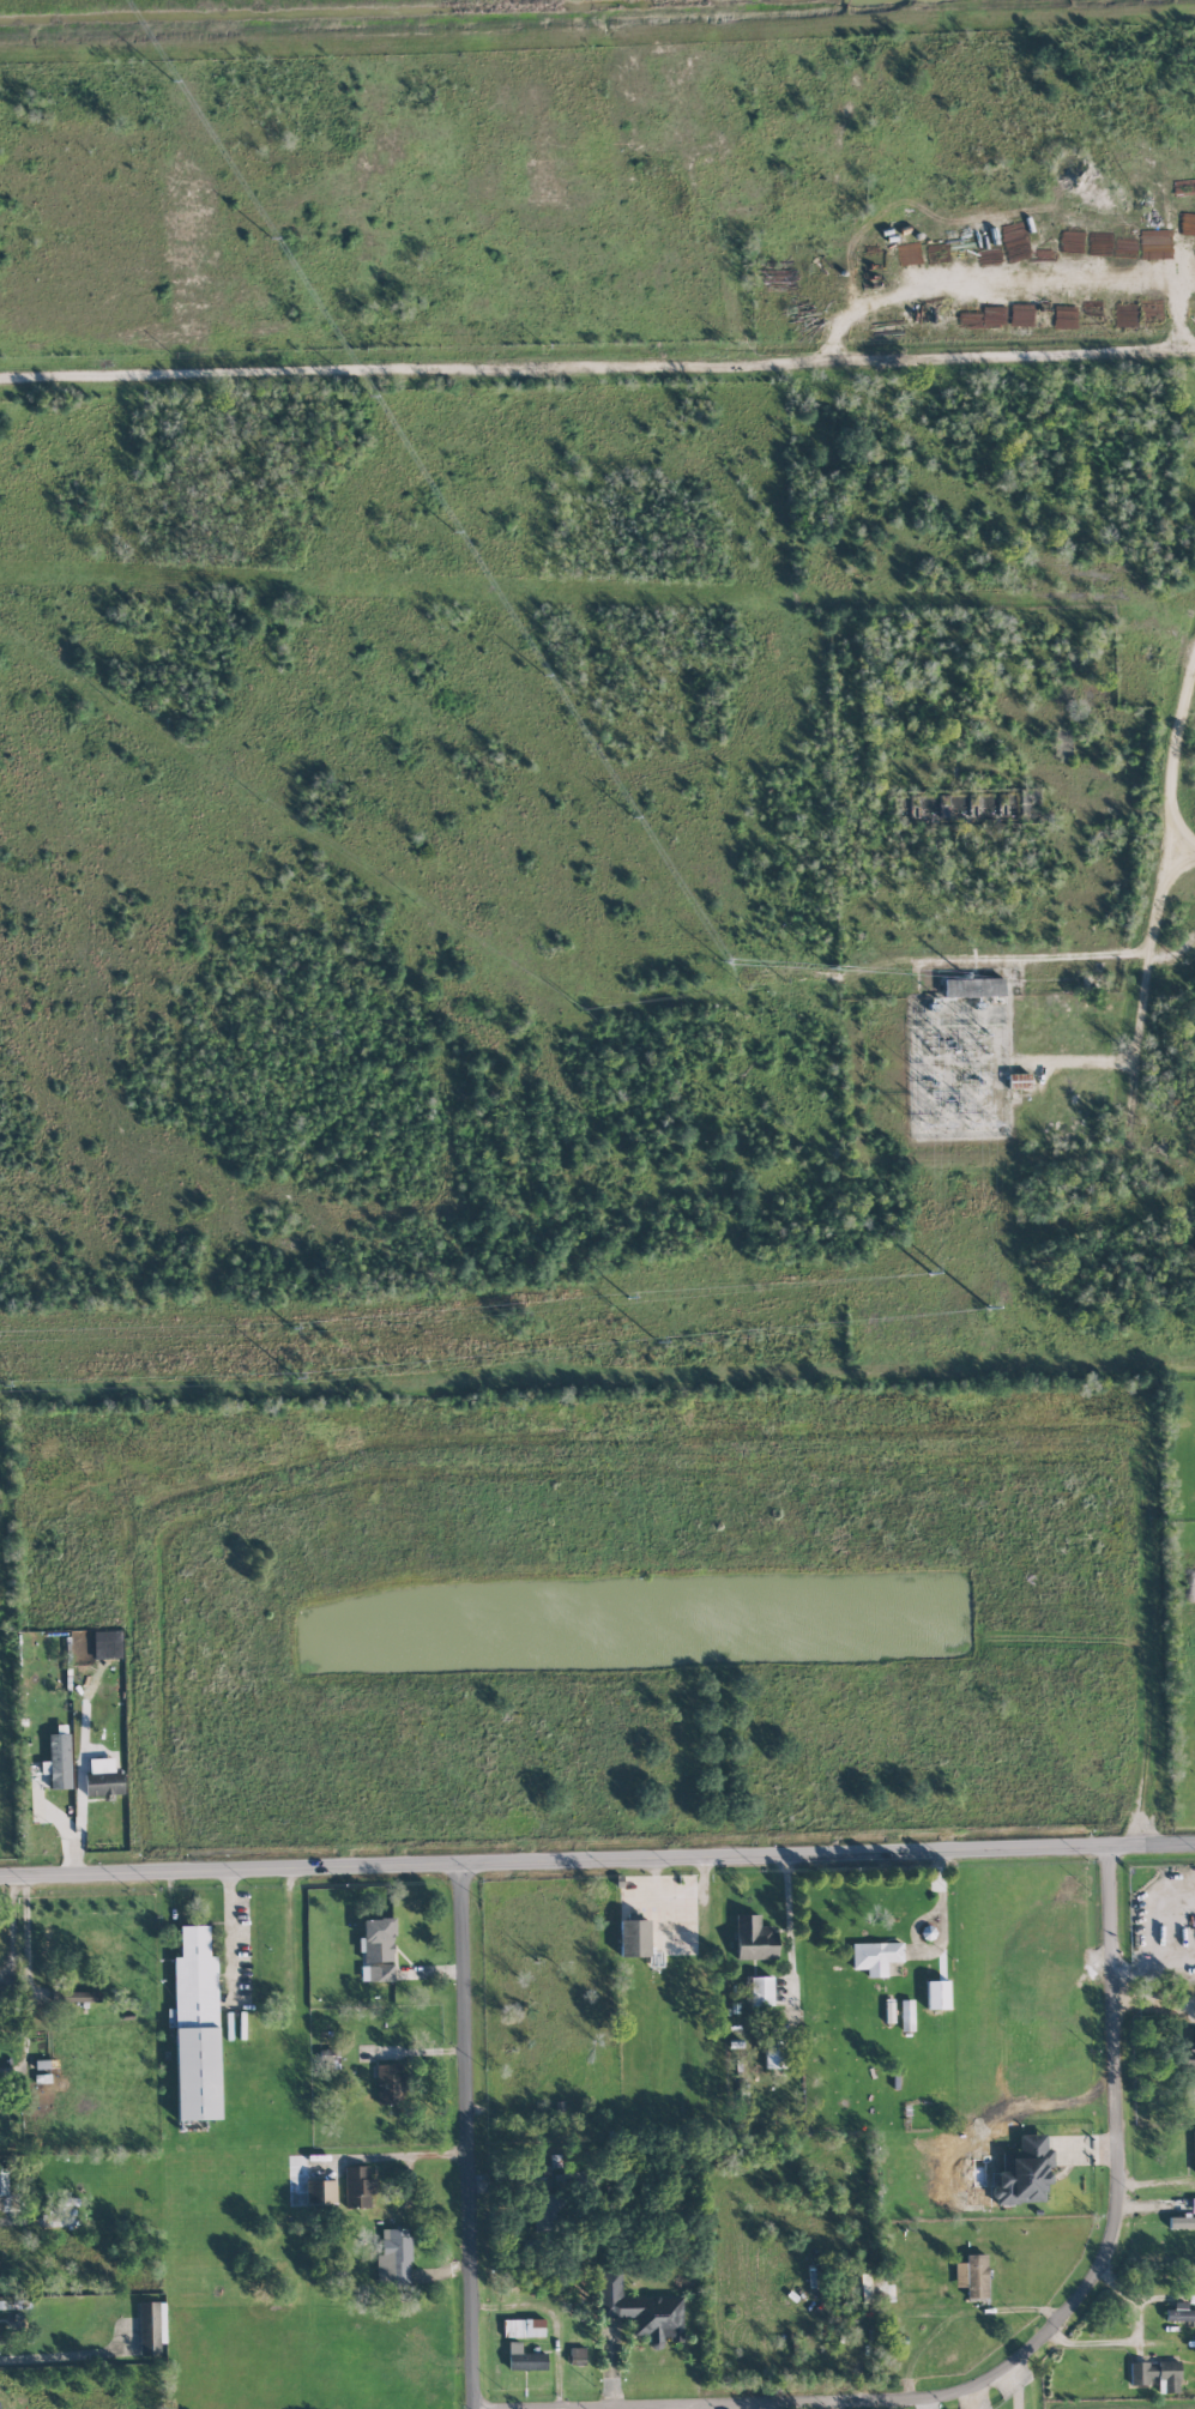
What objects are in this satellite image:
road: (1012, 285)
road: (597, 366)
road: (1185, 855)
road: (1163, 913)
building: (973, 986)
power substation: (956, 1068)
building: (1018, 1081)
power tower: (936, 1269)
power tower: (608, 1299)
power tower: (985, 1315)
power tower: (282, 1329)
power tower: (635, 1347)
power tower: (285, 1379)
building: (78, 1638)
building: (107, 1644)
building: (59, 1761)
building: (103, 1777)
road: (597, 1859)
road: (229, 1933)
building: (634, 1938)
building: (754, 1938)
building: (378, 1949)
building: (875, 1956)
road: (1154, 1966)
road: (25, 1981)
building: (761, 1991)
building: (936, 1994)
building: (83, 1997)
building: (906, 2015)
building: (195, 2027)
building: (774, 2053)
building: (1190, 2053)
building: (388, 2083)
road: (472, 2136)
building: (1193, 2150)
building: (1024, 2172)
building: (358, 2185)
building: (320, 2191)
building: (6, 2192)
building: (1193, 2205)
building: (545, 2210)
building: (64, 2217)
building: (1182, 2222)
building: (393, 2257)
building: (972, 2275)
road: (1092, 2289)
building: (640, 2310)
building: (1179, 2313)
building: (151, 2326)
building: (523, 2328)
building: (577, 2355)
building: (524, 2359)
building: (1155, 2374)
road: (1014, 2387)
road: (971, 2401)

